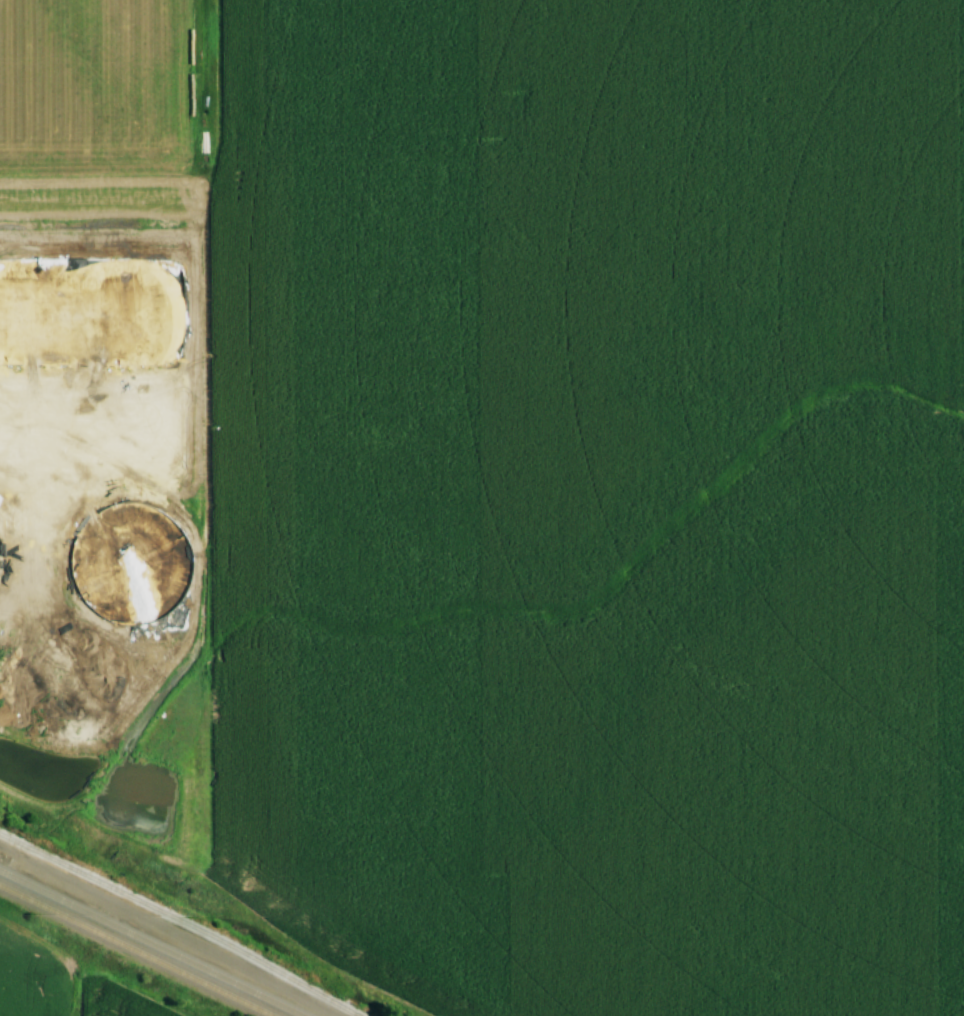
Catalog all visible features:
railway: (180, 920)
railway: (152, 942)
railway: (135, 951)
crop: (29, 978)
crop: (131, 998)

